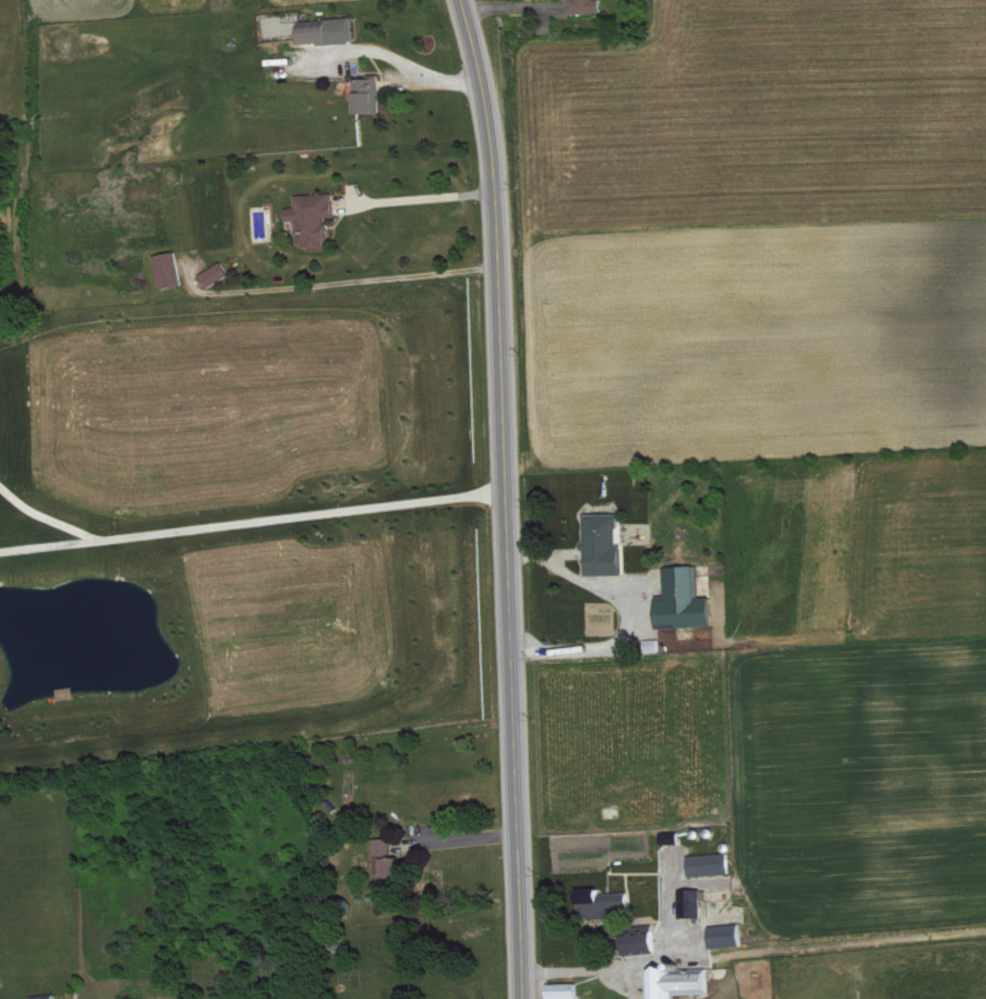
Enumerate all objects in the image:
building: (583, 6)
building: (324, 31)
road: (395, 57)
building: (365, 94)
road: (425, 197)
building: (312, 217)
building: (167, 269)
building: (214, 273)
road: (335, 282)
road: (506, 497)
road: (51, 518)
road: (253, 522)
building: (596, 536)
building: (638, 586)
road: (626, 612)
building: (386, 859)
building: (708, 862)
building: (599, 901)
building: (692, 901)
building: (725, 934)
building: (639, 937)
road: (641, 963)
building: (677, 981)
building: (562, 990)
building: (50, 996)

